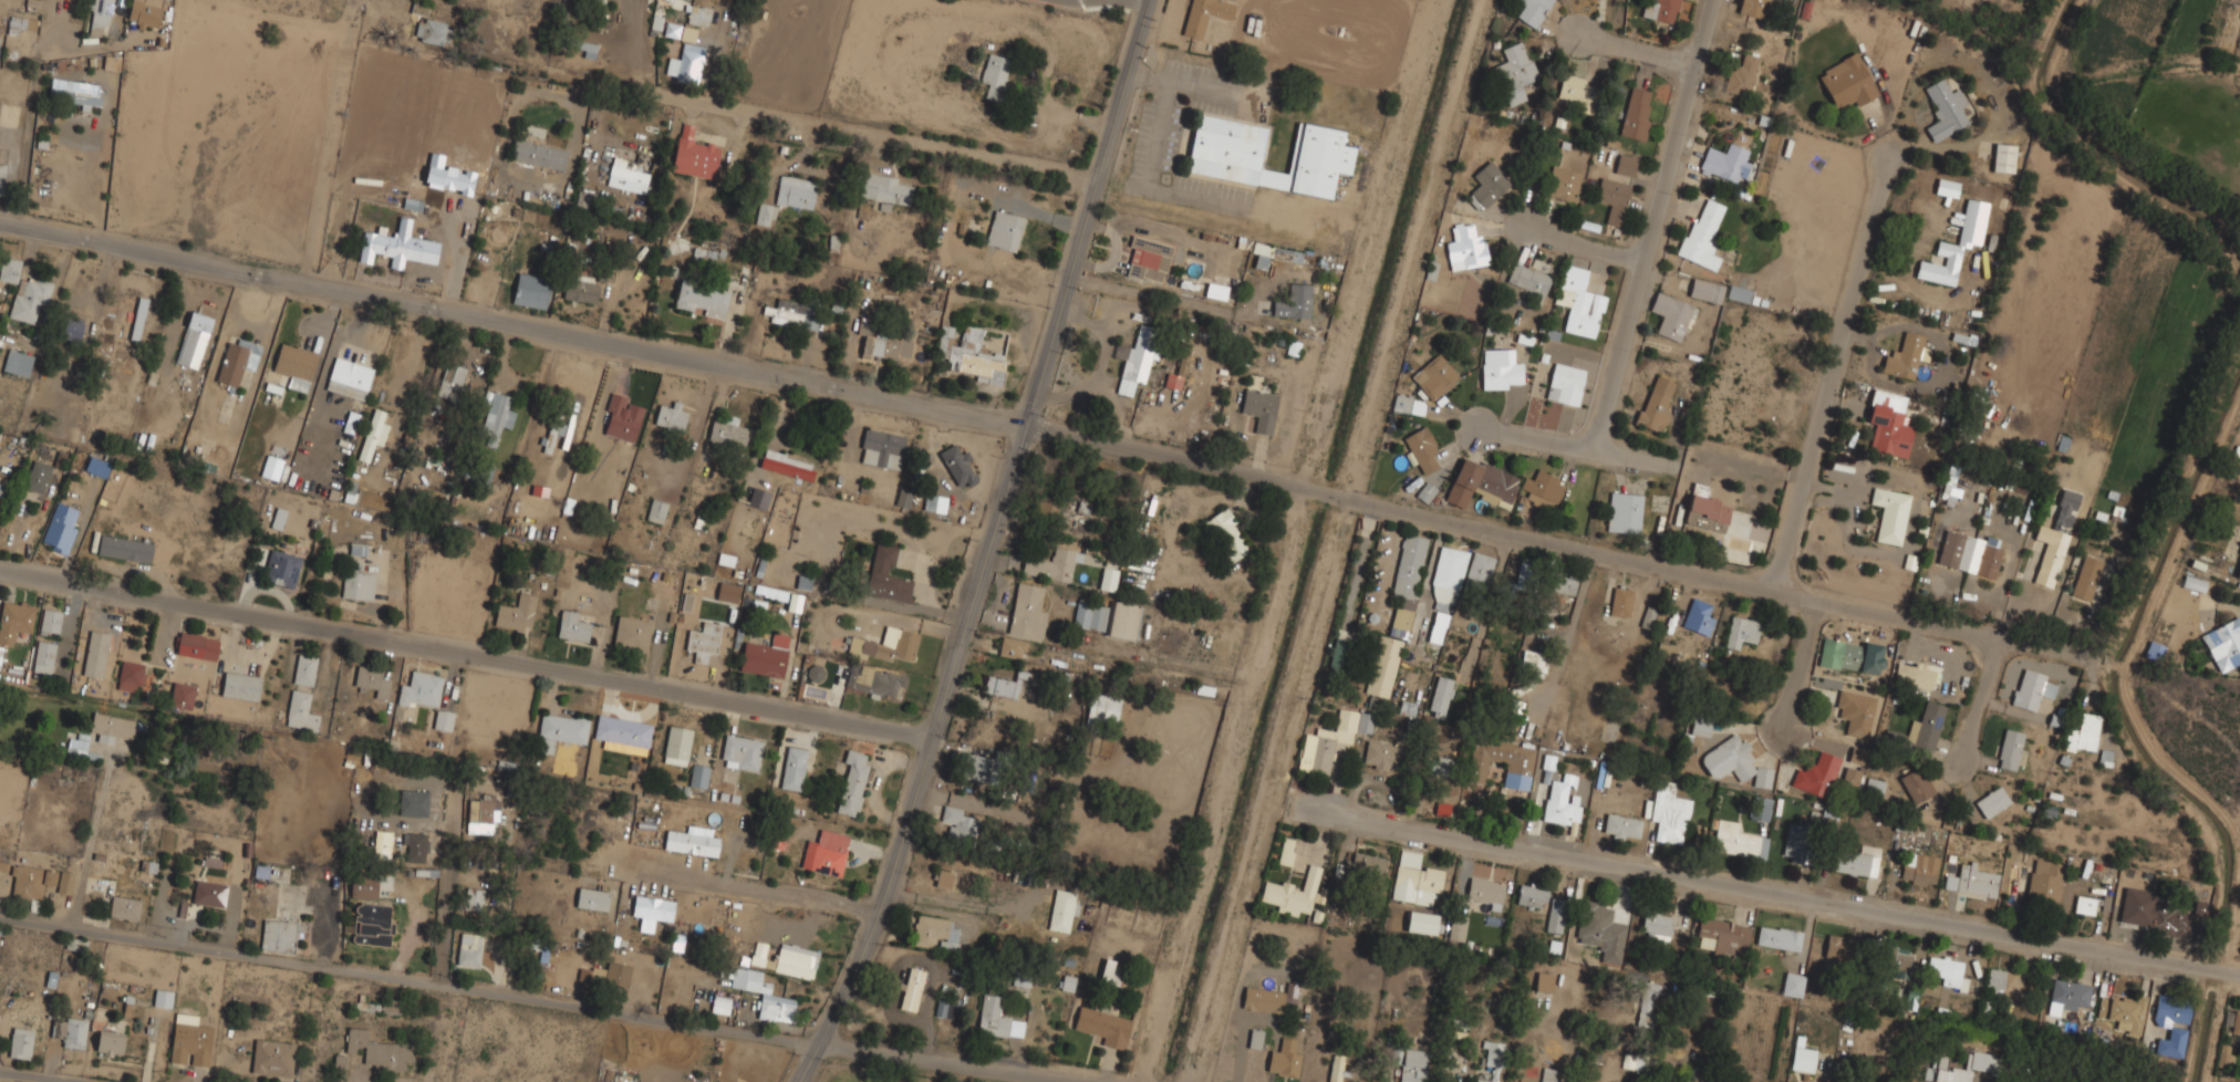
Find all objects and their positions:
building: (419, 8)
building: (1532, 10)
building: (1660, 10)
building: (1753, 11)
building: (144, 12)
building: (697, 14)
building: (1204, 14)
building: (98, 17)
building: (14, 24)
building: (431, 30)
building: (687, 34)
road: (1641, 46)
building: (587, 49)
building: (689, 60)
building: (111, 62)
building: (1514, 71)
building: (994, 73)
building: (1741, 74)
building: (1846, 80)
building: (1577, 90)
building: (72, 95)
road: (33, 98)
building: (1945, 108)
building: (1636, 112)
road: (816, 124)
building: (694, 153)
building: (538, 154)
building: (1224, 156)
building: (2003, 157)
building: (1724, 160)
building: (1625, 164)
building: (1, 166)
building: (630, 171)
building: (454, 179)
building: (1562, 181)
building: (1486, 184)
building: (884, 187)
building: (1947, 188)
building: (795, 191)
building: (1611, 197)
building: (765, 215)
road: (1657, 225)
building: (1004, 229)
building: (1701, 231)
road: (1587, 242)
building: (398, 245)
building: (1465, 247)
building: (1271, 253)
building: (1148, 258)
building: (1941, 263)
building: (1528, 278)
building: (580, 288)
building: (23, 289)
building: (530, 289)
building: (1215, 290)
building: (1705, 290)
building: (1738, 292)
building: (701, 298)
building: (1582, 299)
building: (1294, 300)
building: (791, 312)
building: (1669, 314)
building: (134, 315)
road: (512, 322)
building: (74, 329)
building: (194, 339)
building: (875, 340)
building: (966, 353)
building: (1905, 355)
building: (1137, 356)
building: (237, 358)
building: (17, 361)
building: (295, 364)
building: (1500, 368)
building: (1178, 370)
building: (1434, 375)
building: (348, 377)
road: (1833, 377)
building: (450, 379)
building: (1564, 383)
building: (1656, 402)
building: (1408, 404)
building: (1258, 407)
building: (496, 415)
building: (621, 416)
building: (671, 416)
building: (1888, 422)
building: (372, 428)
building: (727, 429)
building: (551, 433)
road: (1578, 445)
building: (881, 447)
building: (1421, 447)
building: (787, 464)
building: (957, 465)
building: (96, 466)
building: (476, 472)
building: (37, 476)
building: (1479, 481)
building: (0, 487)
building: (533, 488)
building: (1542, 489)
building: (1425, 491)
building: (1948, 495)
building: (758, 497)
building: (903, 497)
building: (935, 503)
building: (1045, 507)
building: (1082, 507)
building: (2065, 507)
building: (1624, 510)
building: (1715, 513)
building: (1890, 513)
building: (278, 519)
building: (60, 528)
building: (1227, 535)
road: (1555, 544)
road: (989, 545)
building: (124, 548)
building: (357, 549)
building: (1969, 552)
building: (2049, 553)
building: (725, 560)
building: (1052, 564)
building: (281, 566)
building: (2238, 569)
building: (888, 570)
building: (1479, 572)
building: (2086, 576)
building: (1522, 578)
building: (1108, 579)
building: (2194, 582)
building: (357, 583)
building: (1407, 583)
building: (1563, 584)
building: (727, 592)
building: (770, 592)
building: (1443, 599)
building: (1620, 602)
building: (1027, 612)
building: (516, 614)
building: (1089, 615)
building: (1648, 617)
building: (1698, 617)
building: (14, 620)
building: (50, 620)
building: (1124, 621)
building: (572, 626)
building: (1741, 632)
building: (631, 633)
road: (1568, 638)
building: (703, 639)
building: (2223, 642)
building: (888, 644)
building: (197, 645)
building: (1012, 647)
building: (1666, 649)
building: (95, 653)
road: (466, 654)
building: (765, 655)
building: (43, 656)
building: (1852, 656)
building: (1533, 663)
building: (1382, 666)
road: (1801, 669)
building: (303, 670)
building: (129, 675)
building: (371, 680)
building: (874, 682)
building: (239, 685)
building: (1005, 685)
building: (2031, 688)
building: (419, 689)
building: (182, 695)
building: (1440, 696)
road: (1980, 706)
building: (1103, 708)
building: (300, 709)
building: (1856, 712)
building: (443, 719)
building: (1365, 722)
building: (113, 725)
building: (562, 727)
building: (1701, 727)
building: (1919, 731)
building: (623, 732)
building: (2083, 732)
building: (1326, 743)
building: (676, 745)
building: (80, 746)
building: (2010, 748)
building: (740, 751)
building: (1382, 756)
building: (1857, 756)
building: (1735, 762)
building: (1443, 766)
building: (791, 767)
building: (982, 769)
building: (1517, 772)
building: (698, 774)
building: (1816, 776)
building: (1850, 778)
building: (1568, 781)
building: (851, 782)
road: (1204, 783)
building: (1916, 784)
building: (1874, 788)
building: (1992, 800)
building: (415, 802)
building: (1562, 808)
building: (1760, 809)
building: (480, 812)
building: (1669, 813)
building: (958, 826)
building: (1622, 826)
building: (382, 839)
building: (1738, 841)
building: (691, 842)
building: (1796, 842)
road: (87, 845)
building: (415, 846)
building: (1285, 852)
building: (822, 856)
building: (1857, 861)
building: (1366, 865)
building: (1918, 868)
building: (30, 880)
building: (944, 880)
building: (1414, 880)
building: (1972, 880)
building: (2043, 881)
building: (64, 882)
road: (740, 884)
building: (363, 887)
road: (446, 888)
road: (1781, 891)
building: (1485, 892)
building: (209, 893)
building: (1292, 894)
building: (1531, 896)
building: (473, 897)
building: (591, 897)
building: (2087, 904)
building: (124, 906)
building: (651, 909)
building: (1061, 911)
building: (1555, 915)
building: (2169, 920)
building: (372, 923)
building: (1421, 923)
building: (1657, 927)
building: (1456, 930)
building: (1600, 930)
building: (935, 932)
building: (278, 935)
building: (1721, 936)
building: (1778, 938)
building: (75, 943)
building: (1836, 947)
building: (468, 949)
building: (784, 959)
building: (1895, 959)
building: (1110, 971)
building: (1947, 971)
building: (608, 974)
building: (1995, 980)
building: (1544, 982)
building: (1793, 985)
building: (912, 990)
building: (763, 992)
building: (2071, 993)
building: (163, 998)
building: (1263, 1000)
road: (559, 1002)
building: (367, 1005)
building: (391, 1005)
building: (1647, 1005)
building: (719, 1006)
building: (2123, 1012)
building: (2231, 1018)
building: (997, 1019)
building: (2170, 1023)
building: (1103, 1027)
building: (70, 1030)
building: (189, 1040)
building: (20, 1042)
building: (110, 1042)
building: (376, 1049)
building: (2225, 1055)
building: (272, 1057)
building: (1802, 1057)
building: (1284, 1059)
building: (1492, 1061)
building: (1631, 1061)
building: (1982, 1062)
building: (1412, 1065)
building: (1336, 1068)
building: (1551, 1074)
road: (41, 1075)

